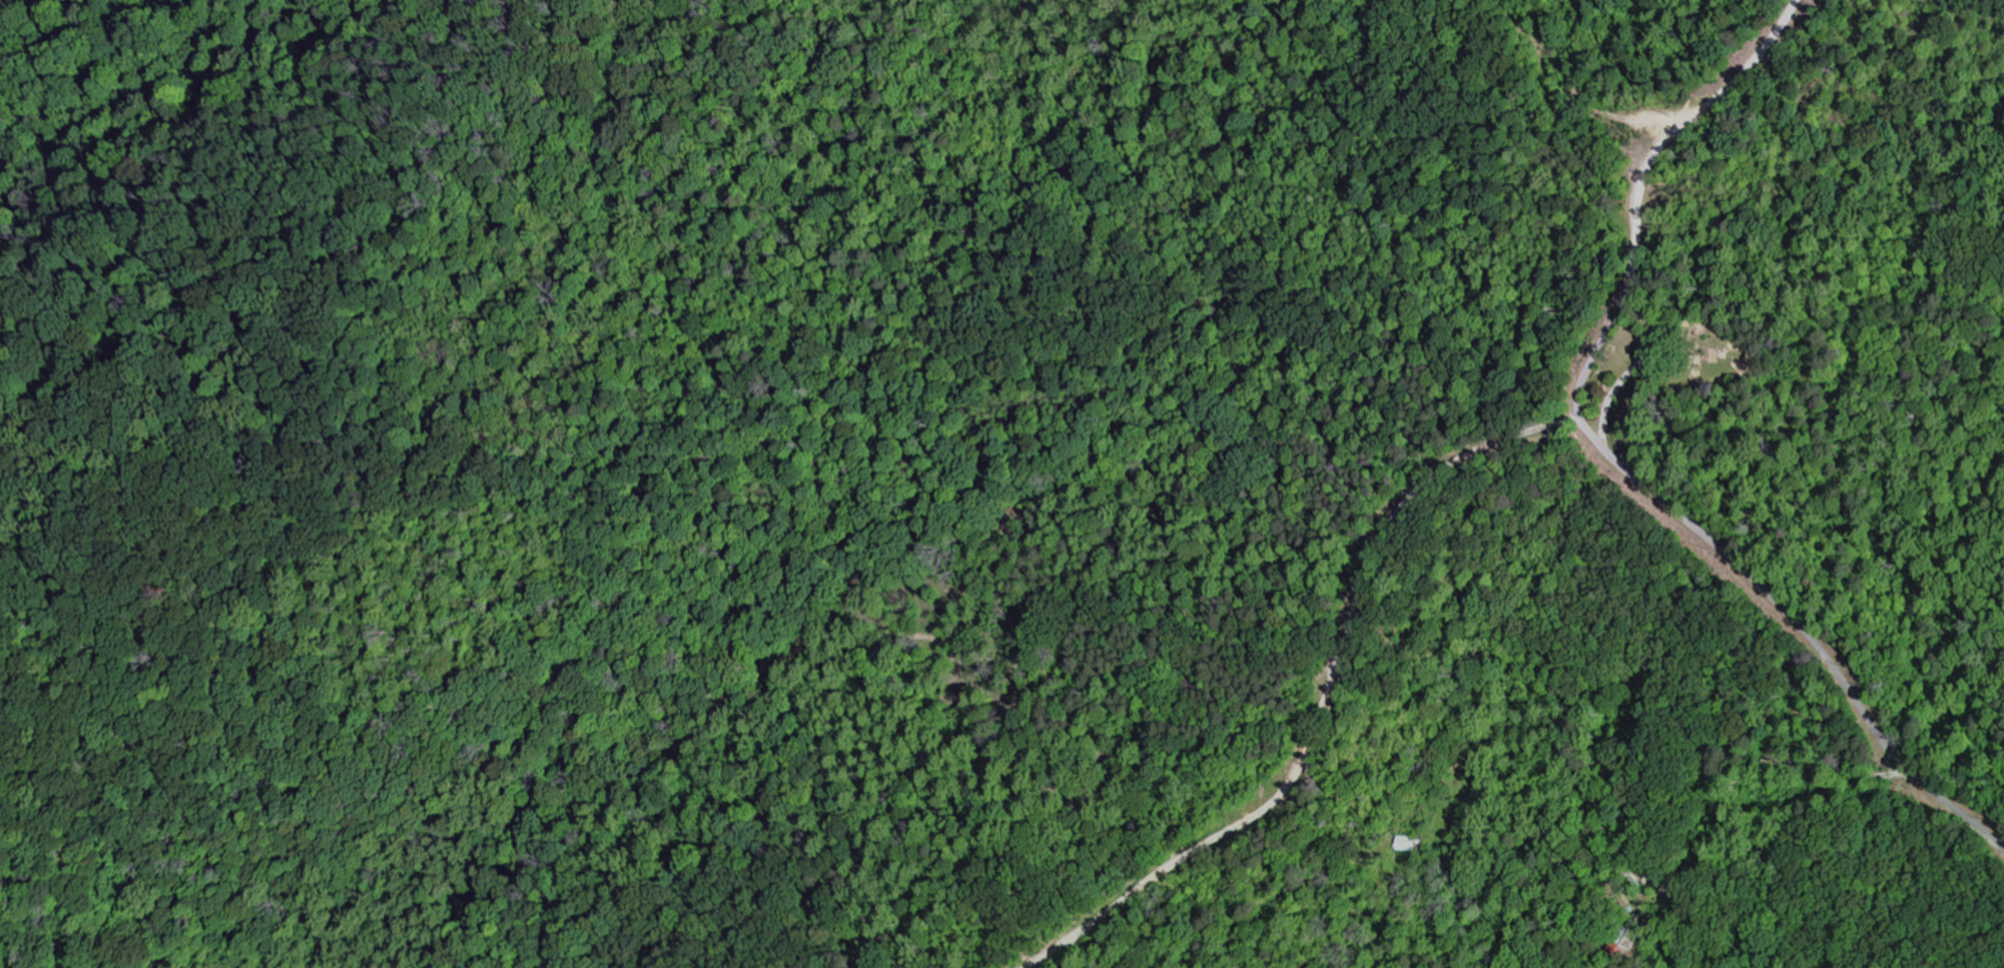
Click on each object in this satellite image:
road: (1637, 184)
road: (1633, 373)
road: (1589, 430)
road: (1810, 639)

